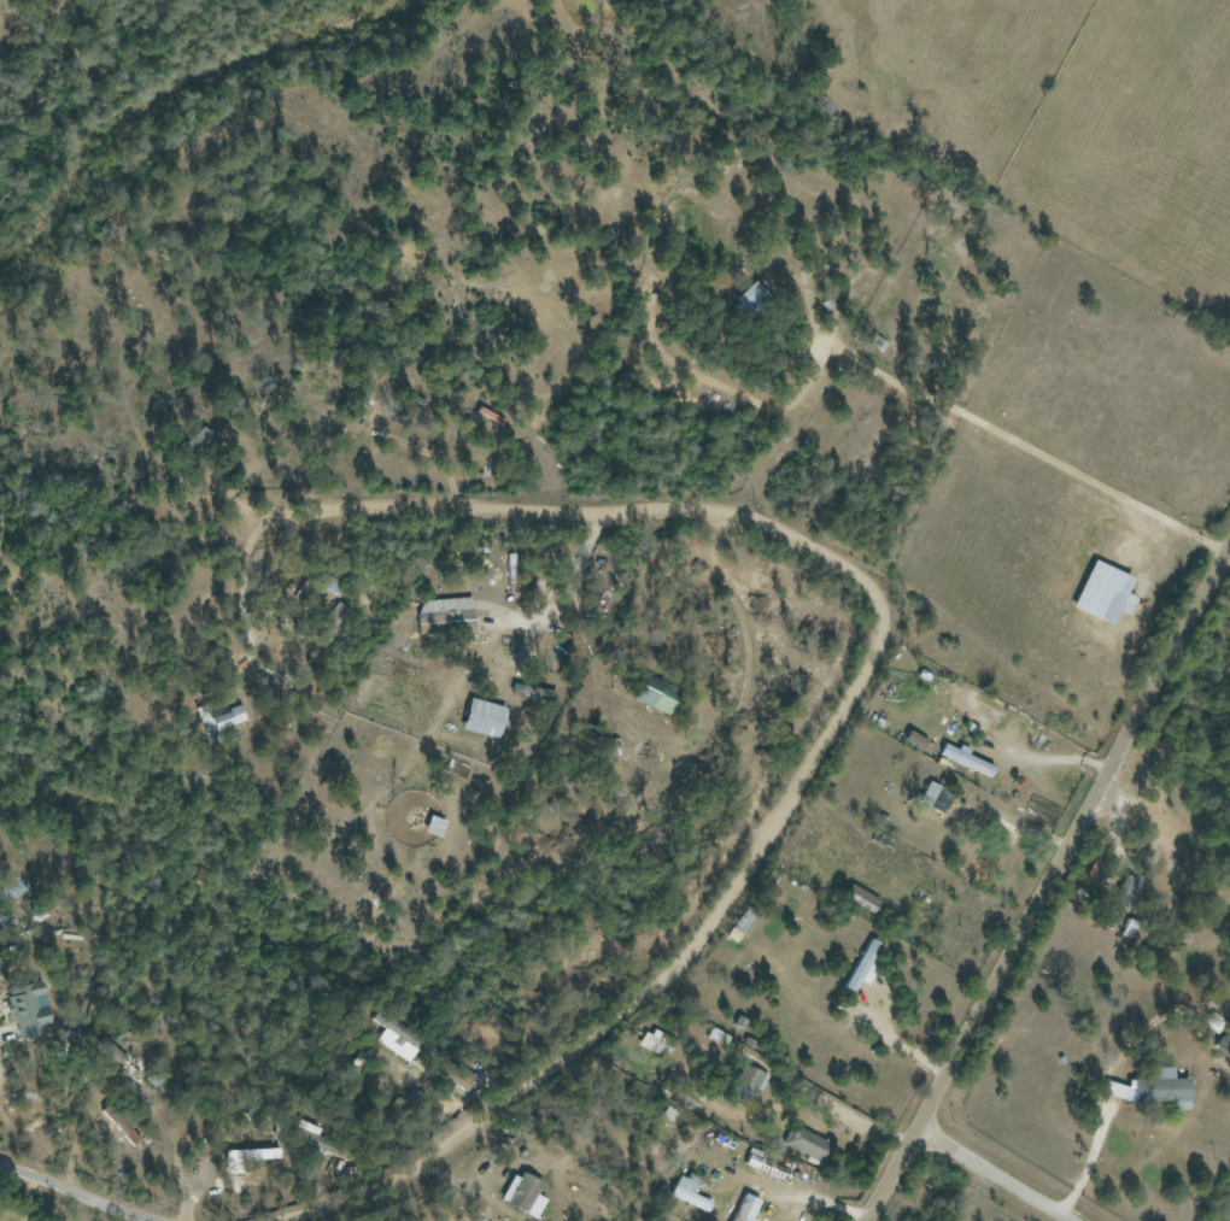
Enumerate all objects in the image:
building: (754, 298)
road: (1001, 435)
building: (204, 441)
road: (837, 477)
road: (242, 587)
road: (411, 589)
building: (1099, 593)
road: (558, 597)
building: (439, 622)
building: (658, 694)
building: (970, 704)
road: (845, 712)
building: (486, 718)
building: (219, 720)
building: (909, 740)
road: (1047, 759)
building: (932, 798)
road: (1047, 885)
building: (1106, 888)
building: (857, 897)
building: (744, 924)
road: (966, 926)
building: (859, 967)
building: (30, 1012)
building: (654, 1041)
building: (1222, 1044)
road: (849, 1075)
building: (748, 1082)
road: (797, 1088)
building: (1148, 1088)
building: (807, 1144)
building: (257, 1154)
building: (767, 1167)
road: (1086, 1169)
road: (989, 1175)
building: (691, 1192)
building: (526, 1194)
road: (80, 1197)
building: (746, 1208)

